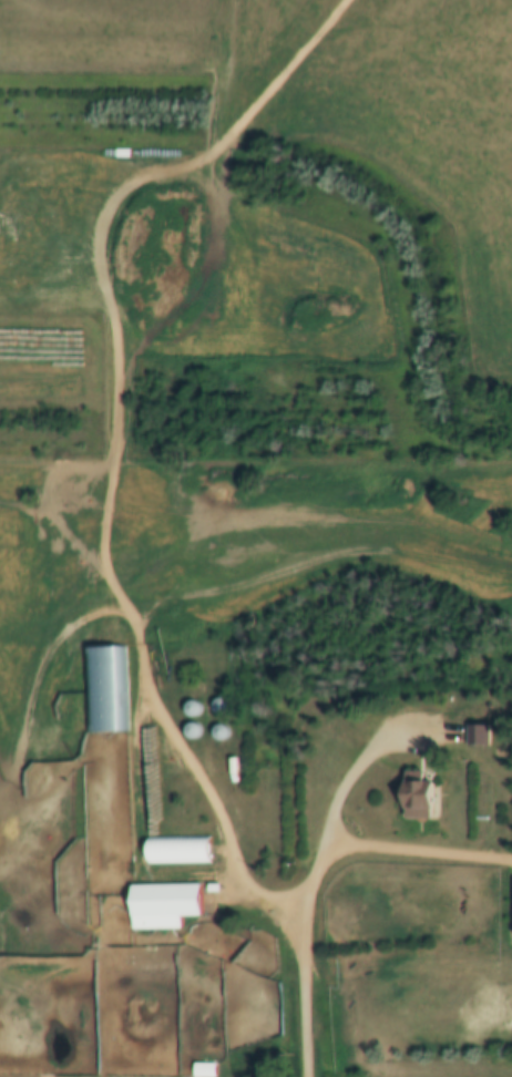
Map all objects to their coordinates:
building: (111, 706)
building: (217, 706)
building: (188, 710)
building: (217, 734)
building: (475, 735)
road: (204, 779)
building: (413, 793)
building: (175, 850)
road: (426, 850)
road: (324, 865)
building: (160, 905)
building: (202, 1070)

